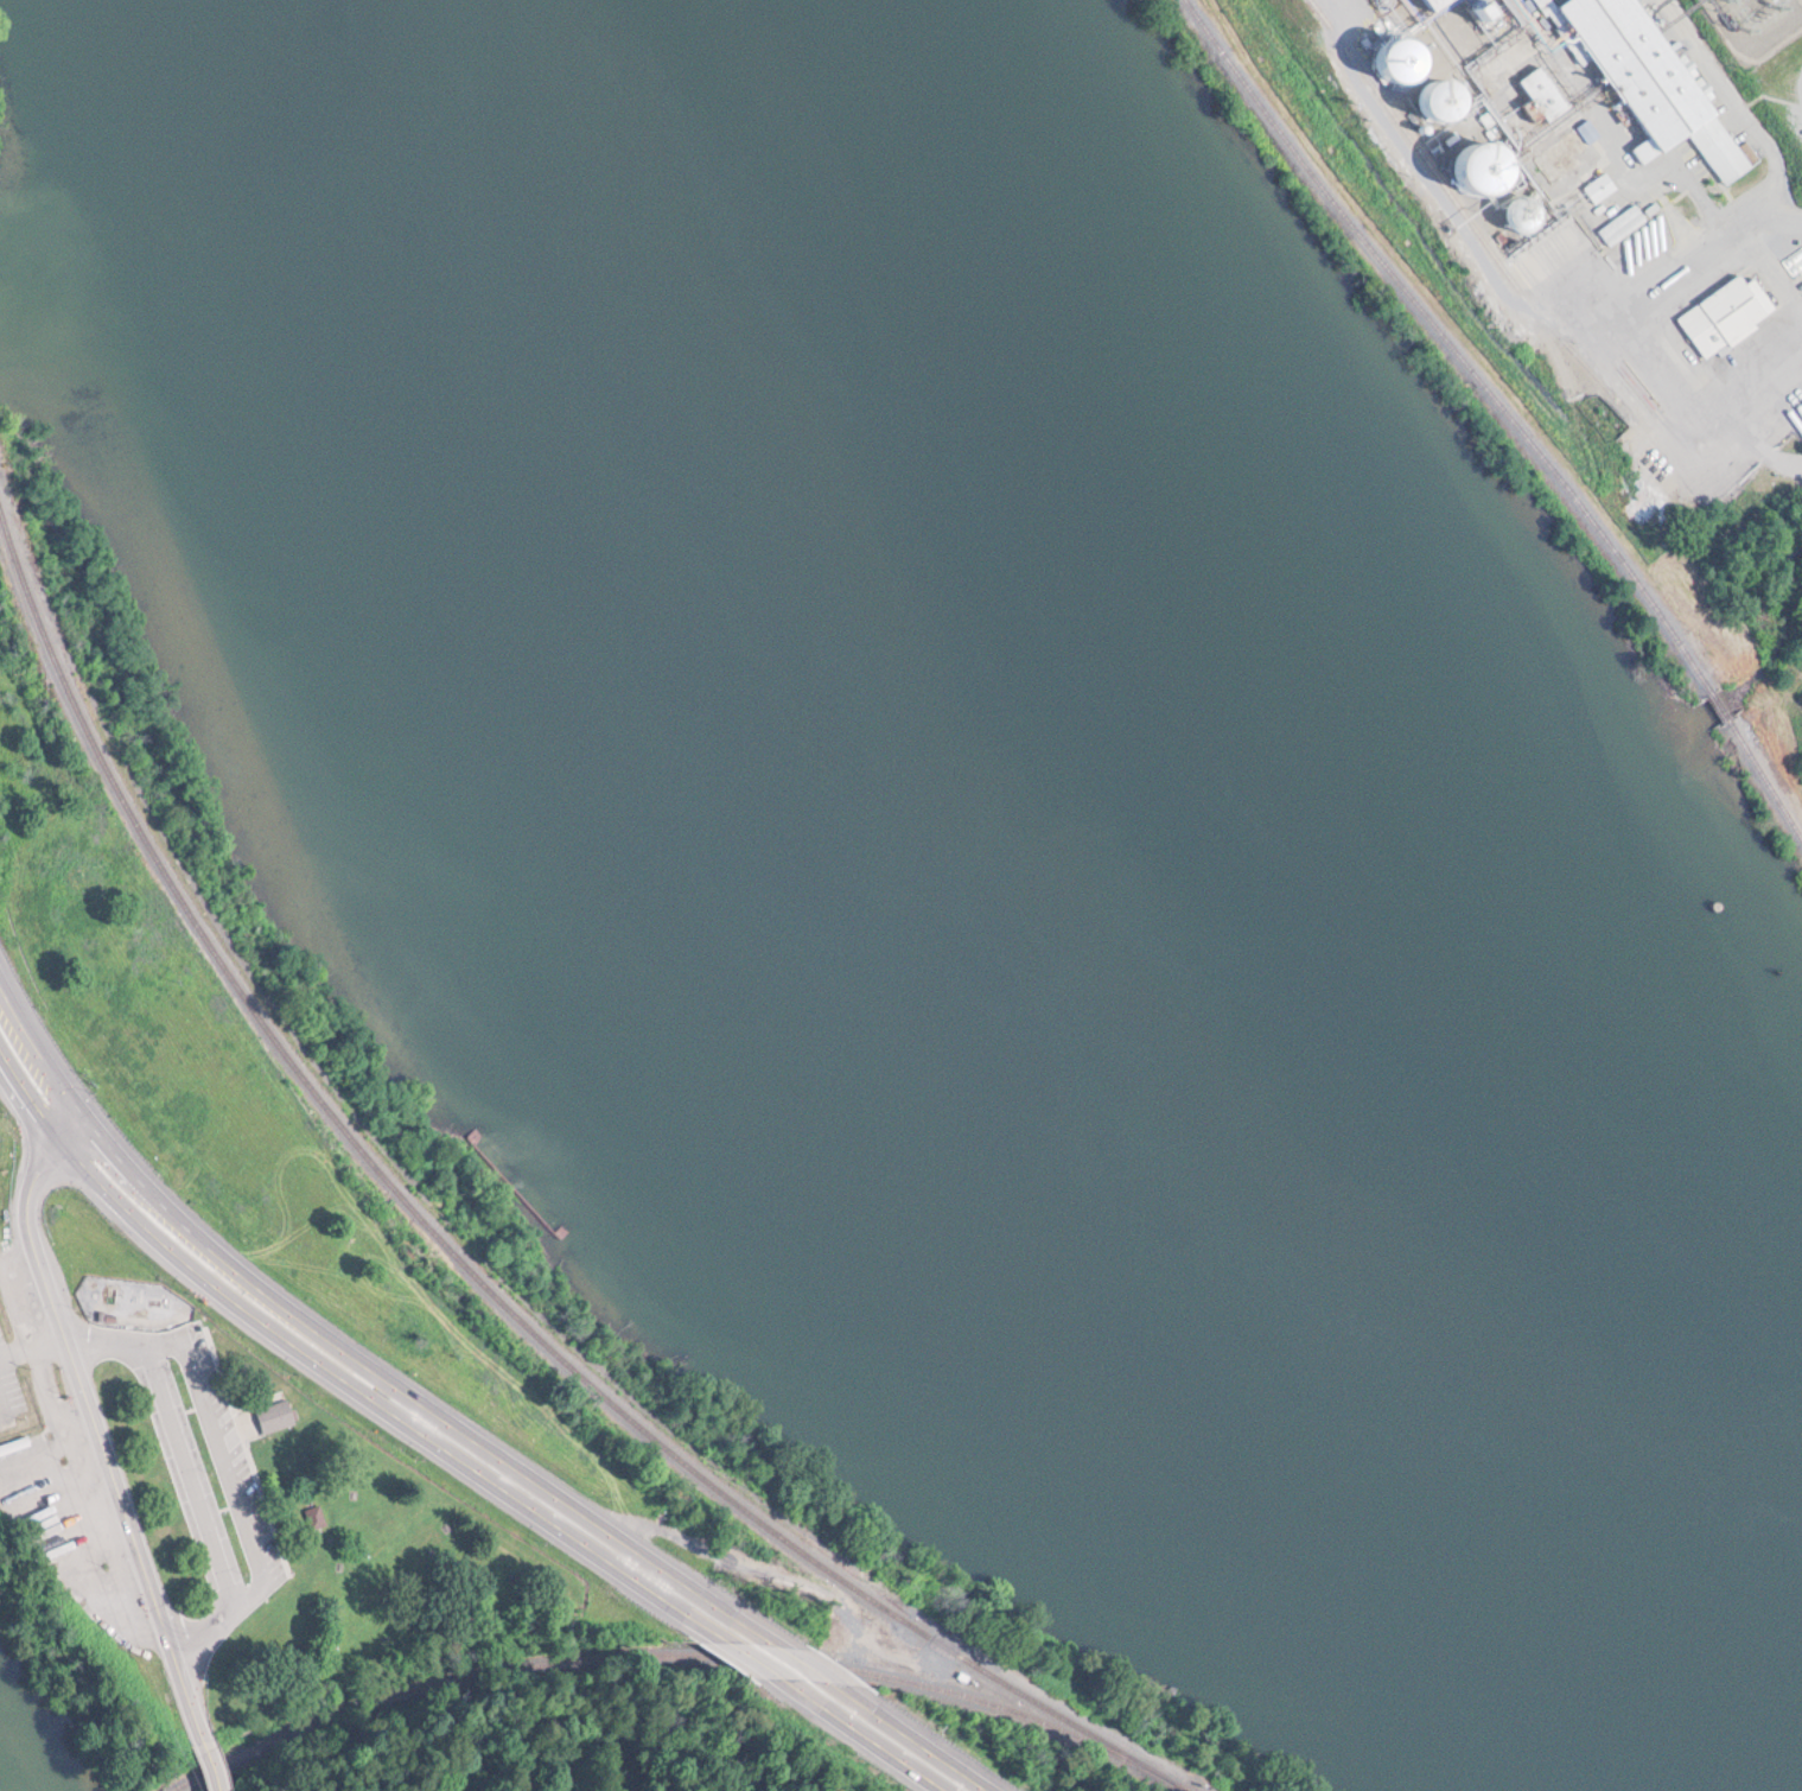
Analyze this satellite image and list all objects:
building: (1435, 2)
road: (1338, 4)
building: (1647, 77)
building: (1541, 87)
building: (1490, 167)
building: (1602, 186)
railway: (1456, 205)
building: (1622, 226)
river: (5, 287)
building: (1718, 310)
railway: (1451, 345)
road: (1740, 401)
road: (1783, 463)
railway: (1720, 706)
railway: (1765, 777)
river: (1089, 864)
road: (46, 1052)
road: (32, 1093)
road: (82, 1135)
railway: (473, 1266)
road: (110, 1352)
road: (426, 1401)
road: (383, 1409)
building: (278, 1416)
road: (103, 1442)
road: (192, 1476)
road: (244, 1495)
building: (103, 1567)
railway: (682, 1656)
road: (753, 1663)
road: (807, 1664)
road: (862, 1736)
road: (913, 1736)
river: (17, 1768)
road: (215, 1770)

